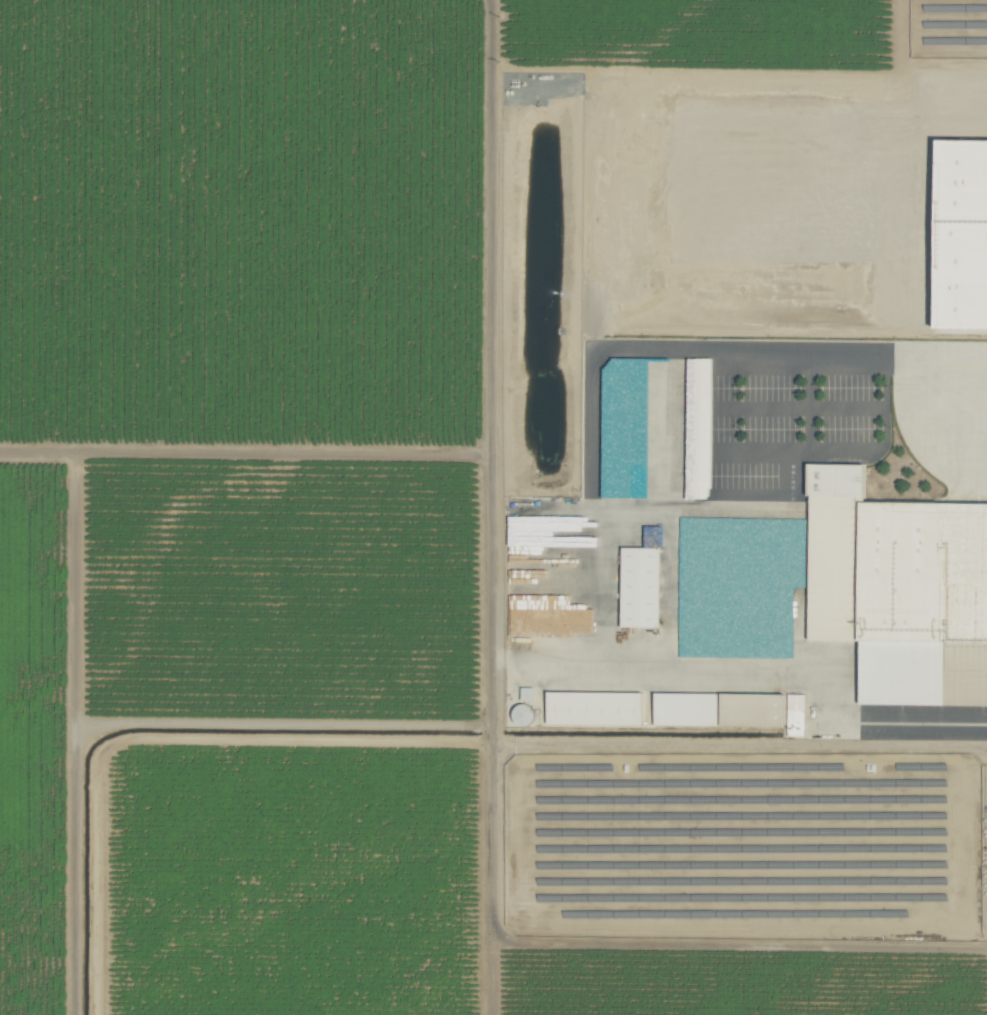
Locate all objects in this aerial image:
building: (961, 171)
road: (862, 360)
building: (633, 367)
crop: (493, 507)
building: (639, 585)
road: (784, 677)
building: (593, 707)
building: (718, 708)
building: (795, 714)

